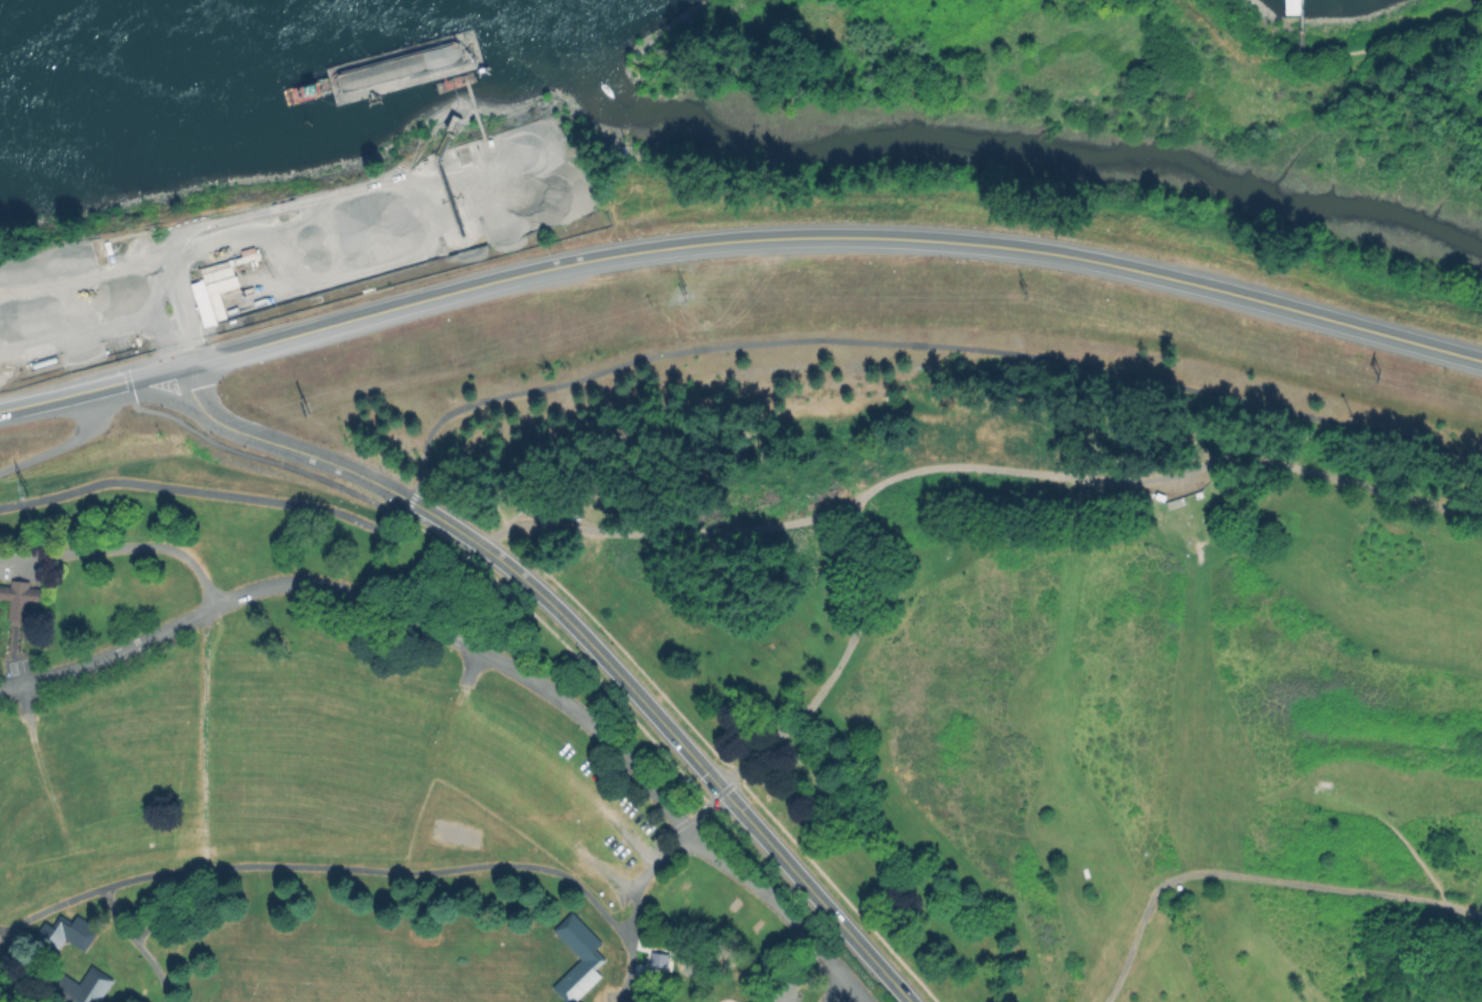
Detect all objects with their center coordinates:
building: (1291, 7)
park: (1119, 76)
park: (1033, 215)
road: (832, 238)
road: (182, 249)
road: (108, 268)
building: (215, 294)
road: (908, 345)
road: (155, 374)
road: (189, 389)
road: (164, 395)
road: (63, 396)
road: (64, 444)
road: (306, 454)
road: (255, 458)
road: (977, 466)
road: (201, 492)
road: (121, 551)
road: (1235, 553)
building: (18, 596)
road: (375, 601)
park: (1048, 679)
road: (352, 685)
road: (22, 697)
road: (805, 708)
road: (335, 726)
road: (673, 737)
road: (203, 739)
road: (232, 774)
park: (346, 789)
road: (1253, 802)
road: (52, 803)
road: (708, 816)
road: (397, 828)
road: (119, 840)
road: (320, 864)
road: (1256, 876)
road: (169, 903)
road: (634, 908)
road: (784, 910)
building: (64, 931)
road: (137, 943)
road: (1176, 948)
building: (656, 954)
building: (578, 957)
building: (78, 986)
road: (837, 991)

